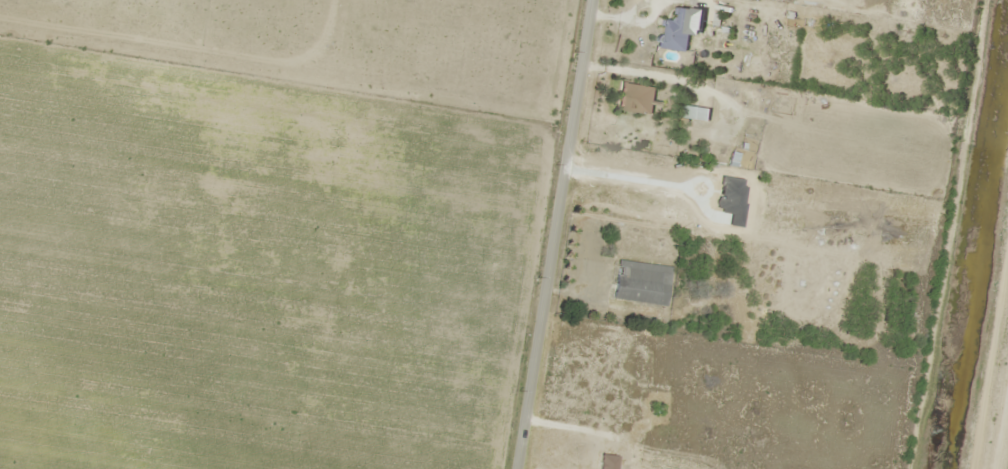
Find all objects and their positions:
building: (679, 30)
road: (583, 32)
building: (634, 98)
building: (644, 208)
road: (545, 266)
building: (639, 283)
railway: (993, 376)

